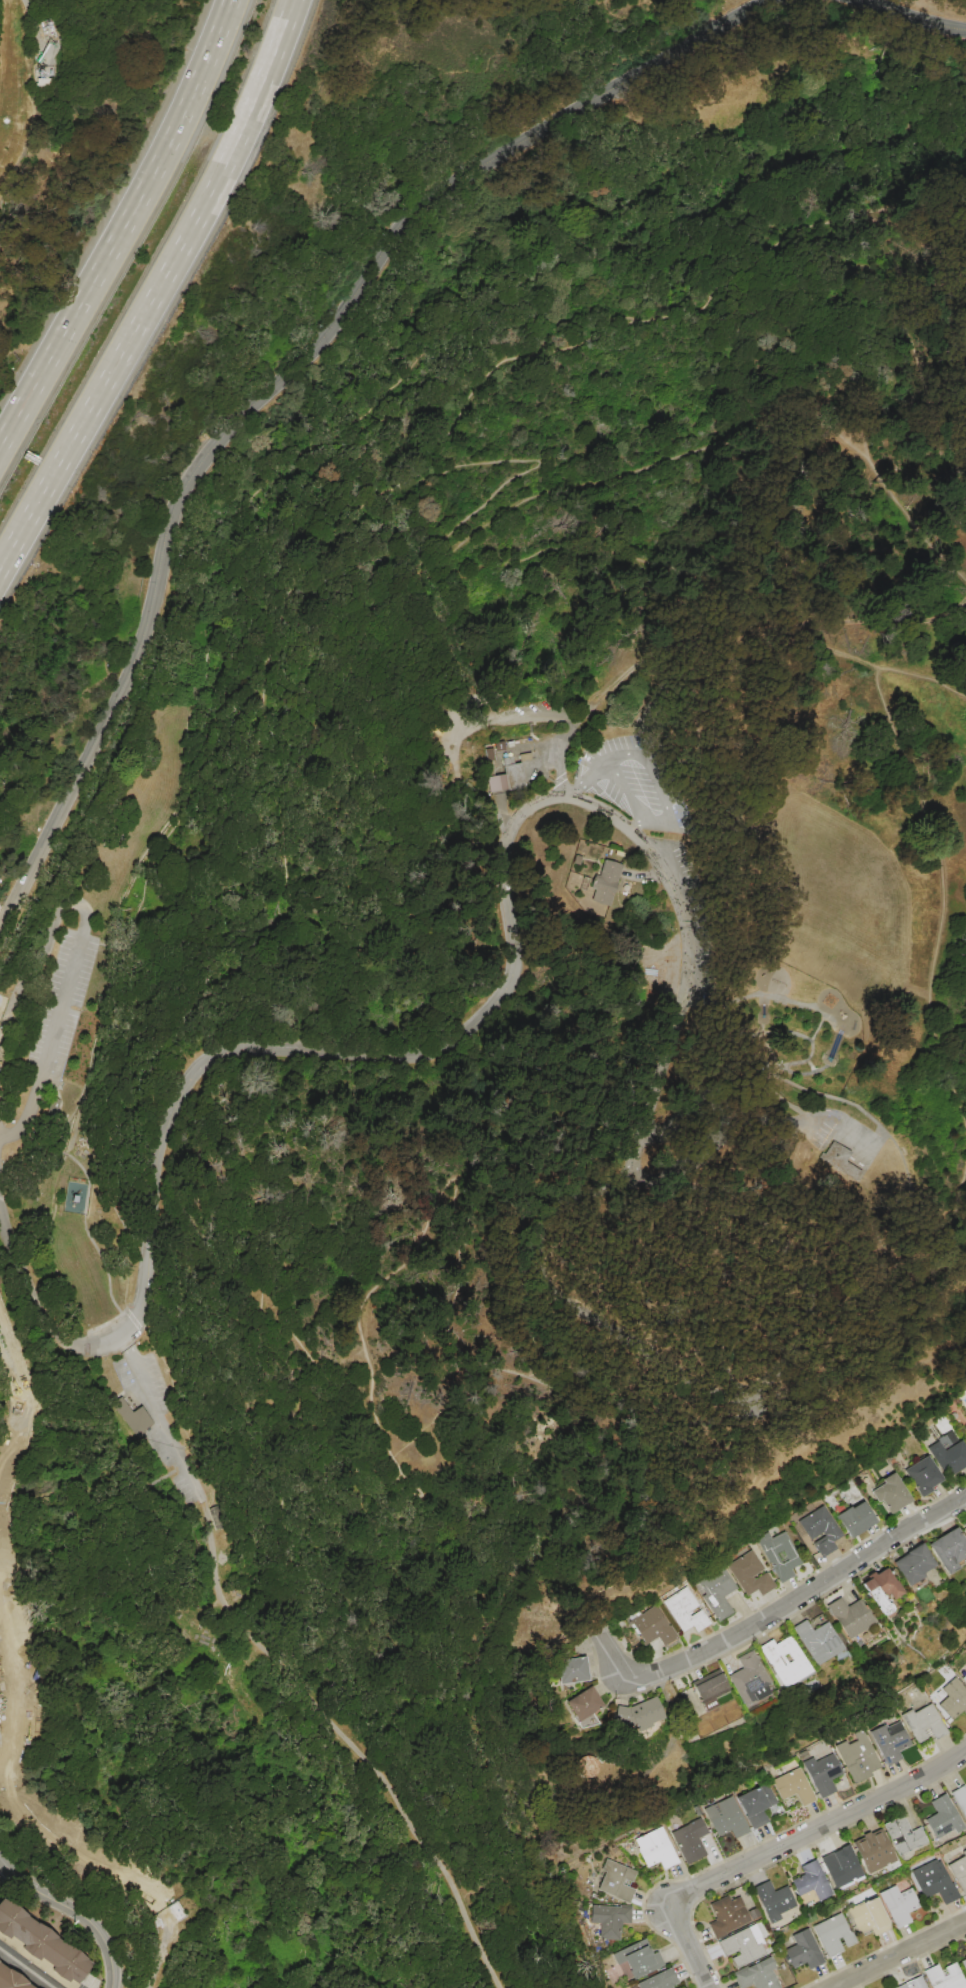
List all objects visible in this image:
road: (915, 16)
road: (918, 196)
road: (782, 222)
road: (123, 226)
road: (157, 288)
road: (542, 318)
road: (924, 339)
road: (285, 381)
road: (495, 555)
road: (763, 632)
road: (814, 646)
road: (574, 718)
building: (487, 753)
building: (524, 756)
road: (654, 759)
building: (512, 774)
building: (495, 783)
road: (597, 787)
parking lot: (640, 791)
road: (649, 818)
road: (937, 849)
building: (606, 882)
road: (98, 942)
road: (124, 944)
road: (132, 945)
road: (39, 949)
road: (706, 999)
road: (61, 1003)
parking lot: (61, 1004)
road: (819, 1011)
park: (498, 1013)
road: (762, 1023)
road: (765, 1029)
road: (460, 1037)
road: (137, 1065)
building: (762, 1068)
road: (767, 1078)
building: (52, 1109)
road: (860, 1109)
road: (58, 1110)
road: (828, 1111)
road: (25, 1113)
road: (731, 1119)
parking lot: (821, 1128)
road: (65, 1157)
building: (841, 1161)
road: (899, 1231)
road: (93, 1244)
road: (557, 1286)
parking lot: (108, 1328)
parking lot: (143, 1379)
building: (132, 1414)
road: (160, 1416)
building: (965, 1430)
building: (948, 1456)
parking lot: (175, 1461)
road: (279, 1466)
building: (923, 1475)
building: (891, 1493)
road: (214, 1496)
building: (217, 1516)
building: (855, 1520)
building: (964, 1525)
building: (820, 1530)
building: (949, 1549)
building: (779, 1554)
building: (913, 1563)
building: (751, 1574)
building: (881, 1590)
building: (716, 1592)
road: (791, 1603)
building: (685, 1610)
building: (849, 1617)
building: (652, 1627)
building: (818, 1641)
building: (784, 1660)
building: (571, 1670)
building: (749, 1679)
building: (964, 1680)
building: (710, 1689)
building: (951, 1699)
building: (583, 1707)
building: (639, 1715)
building: (923, 1723)
road: (349, 1738)
building: (890, 1742)
building: (859, 1757)
building: (584, 1766)
building: (823, 1774)
building: (795, 1787)
building: (960, 1799)
building: (757, 1804)
building: (727, 1818)
building: (943, 1819)
road: (816, 1832)
building: (903, 1836)
building: (690, 1840)
building: (656, 1849)
building: (876, 1853)
road: (4, 1868)
building: (841, 1868)
building: (959, 1871)
building: (811, 1881)
building: (935, 1881)
building: (622, 1882)
building: (774, 1900)
road: (63, 1901)
building: (899, 1905)
building: (729, 1915)
building: (868, 1917)
building: (610, 1919)
building: (833, 1935)
building: (42, 1943)
road: (688, 1946)
building: (742, 1946)
building: (804, 1951)
road: (158, 1954)
road: (897, 1954)
building: (636, 1960)
building: (963, 1965)
road: (24, 1969)
road: (114, 1974)
building: (757, 1975)
building: (943, 1976)
building: (12, 1979)
building: (660, 1980)
building: (913, 1983)

